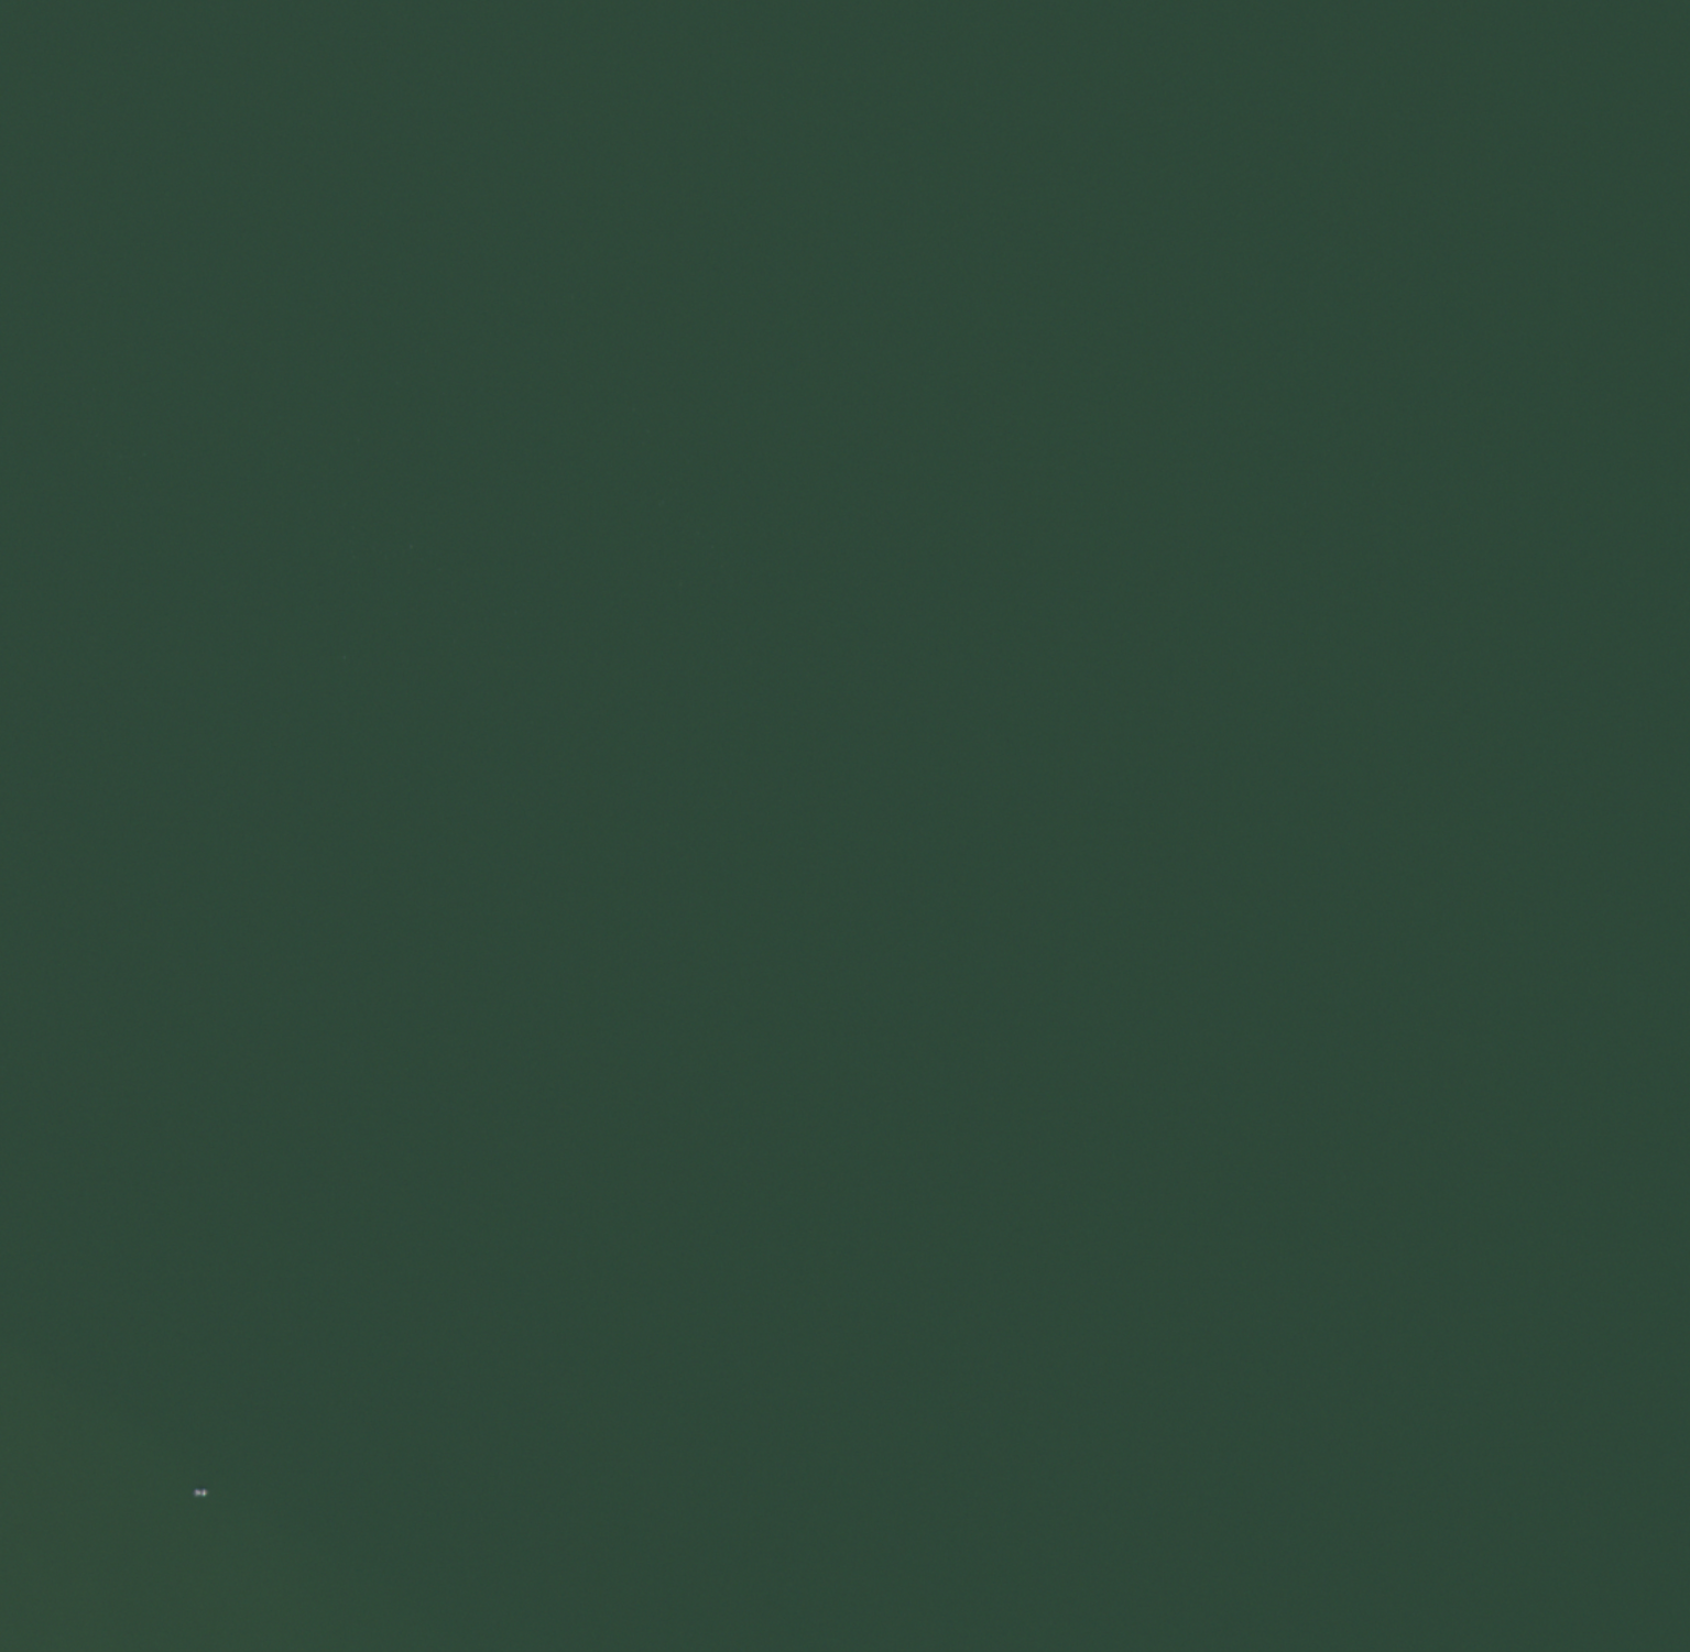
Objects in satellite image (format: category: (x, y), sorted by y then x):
river: (1589, 114)

